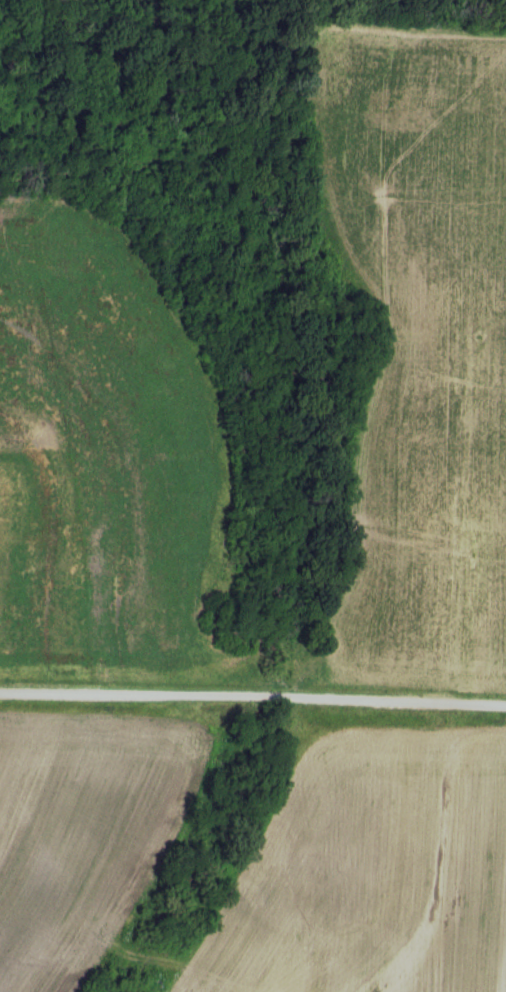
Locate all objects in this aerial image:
road: (253, 699)

